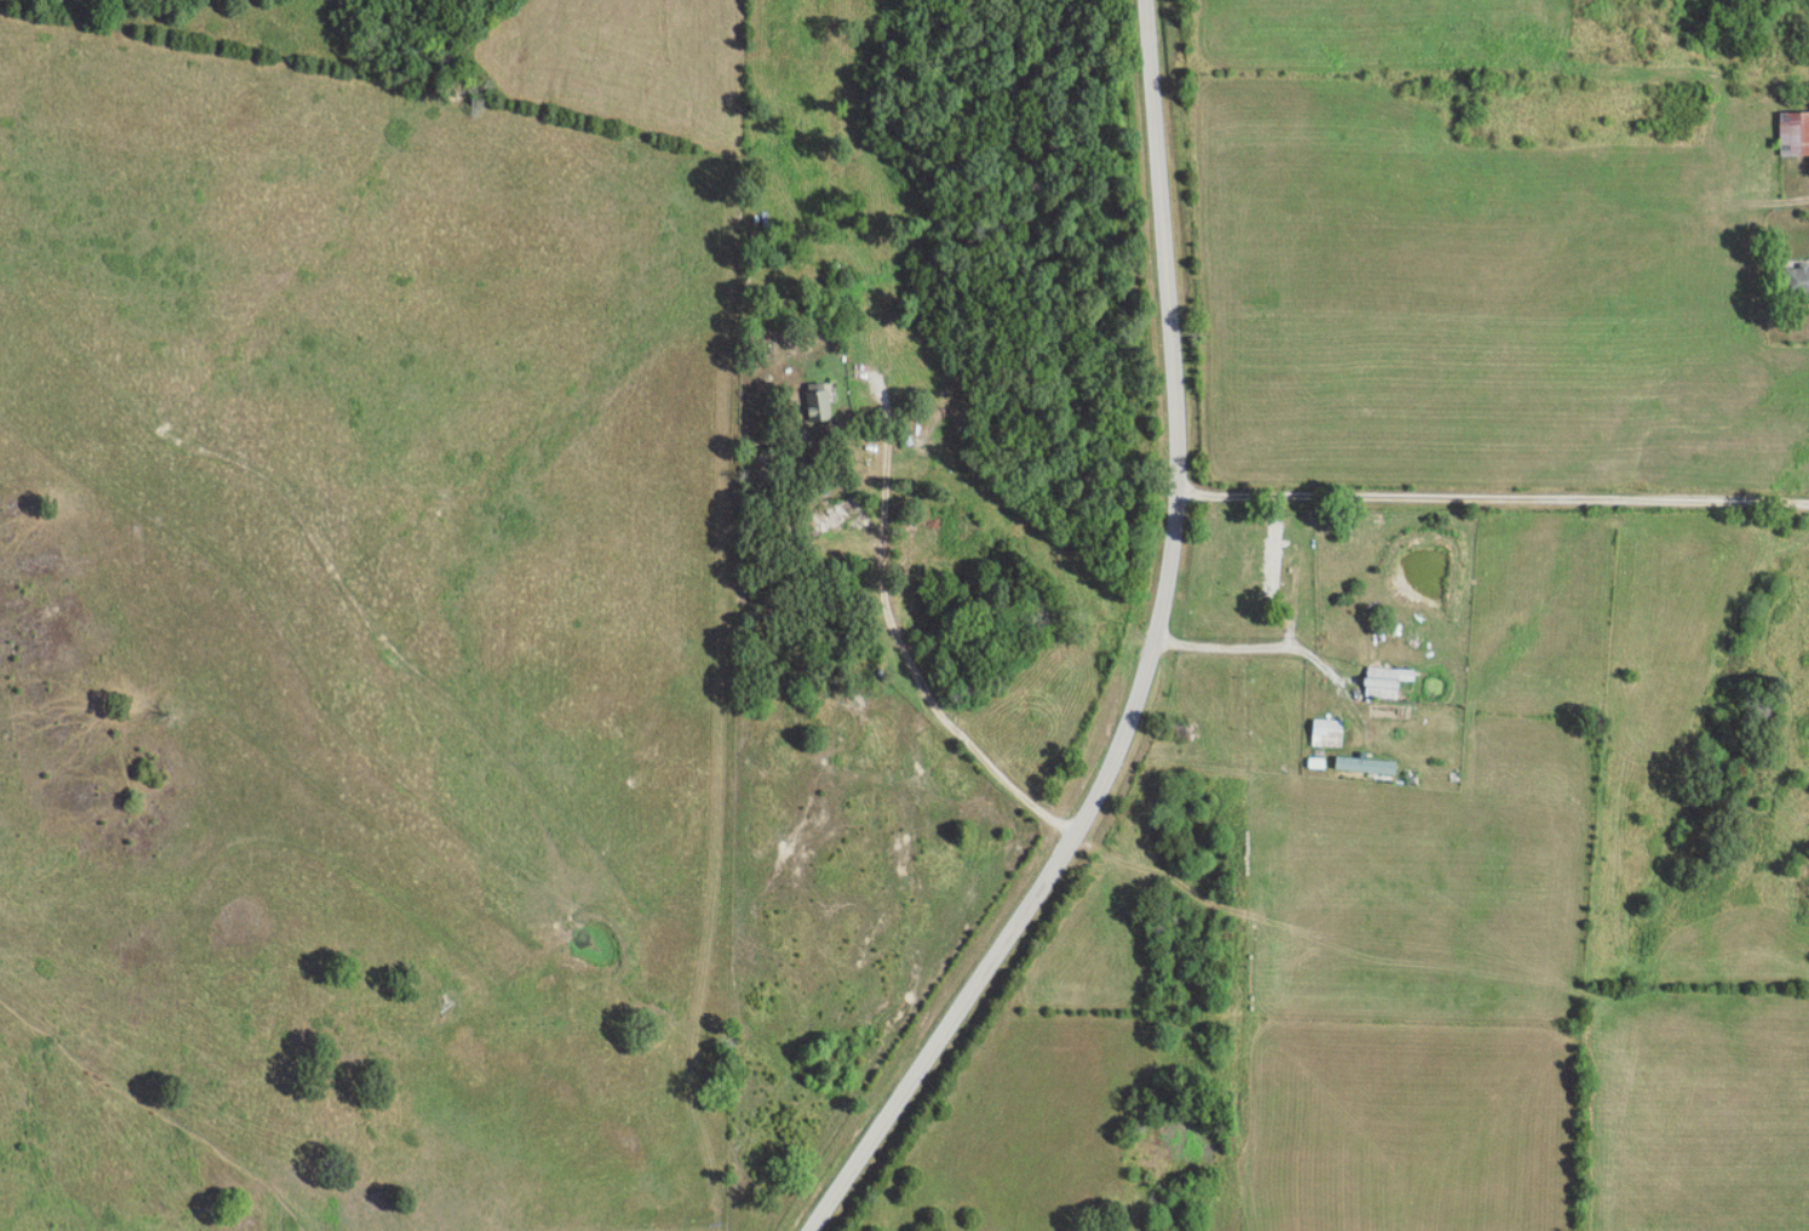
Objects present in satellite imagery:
road: (950, 16)
building: (1793, 133)
building: (1796, 281)
building: (817, 406)
road: (1496, 498)
building: (1273, 556)
road: (895, 615)
road: (1250, 648)
road: (1152, 659)
building: (1327, 732)
building: (1364, 765)

